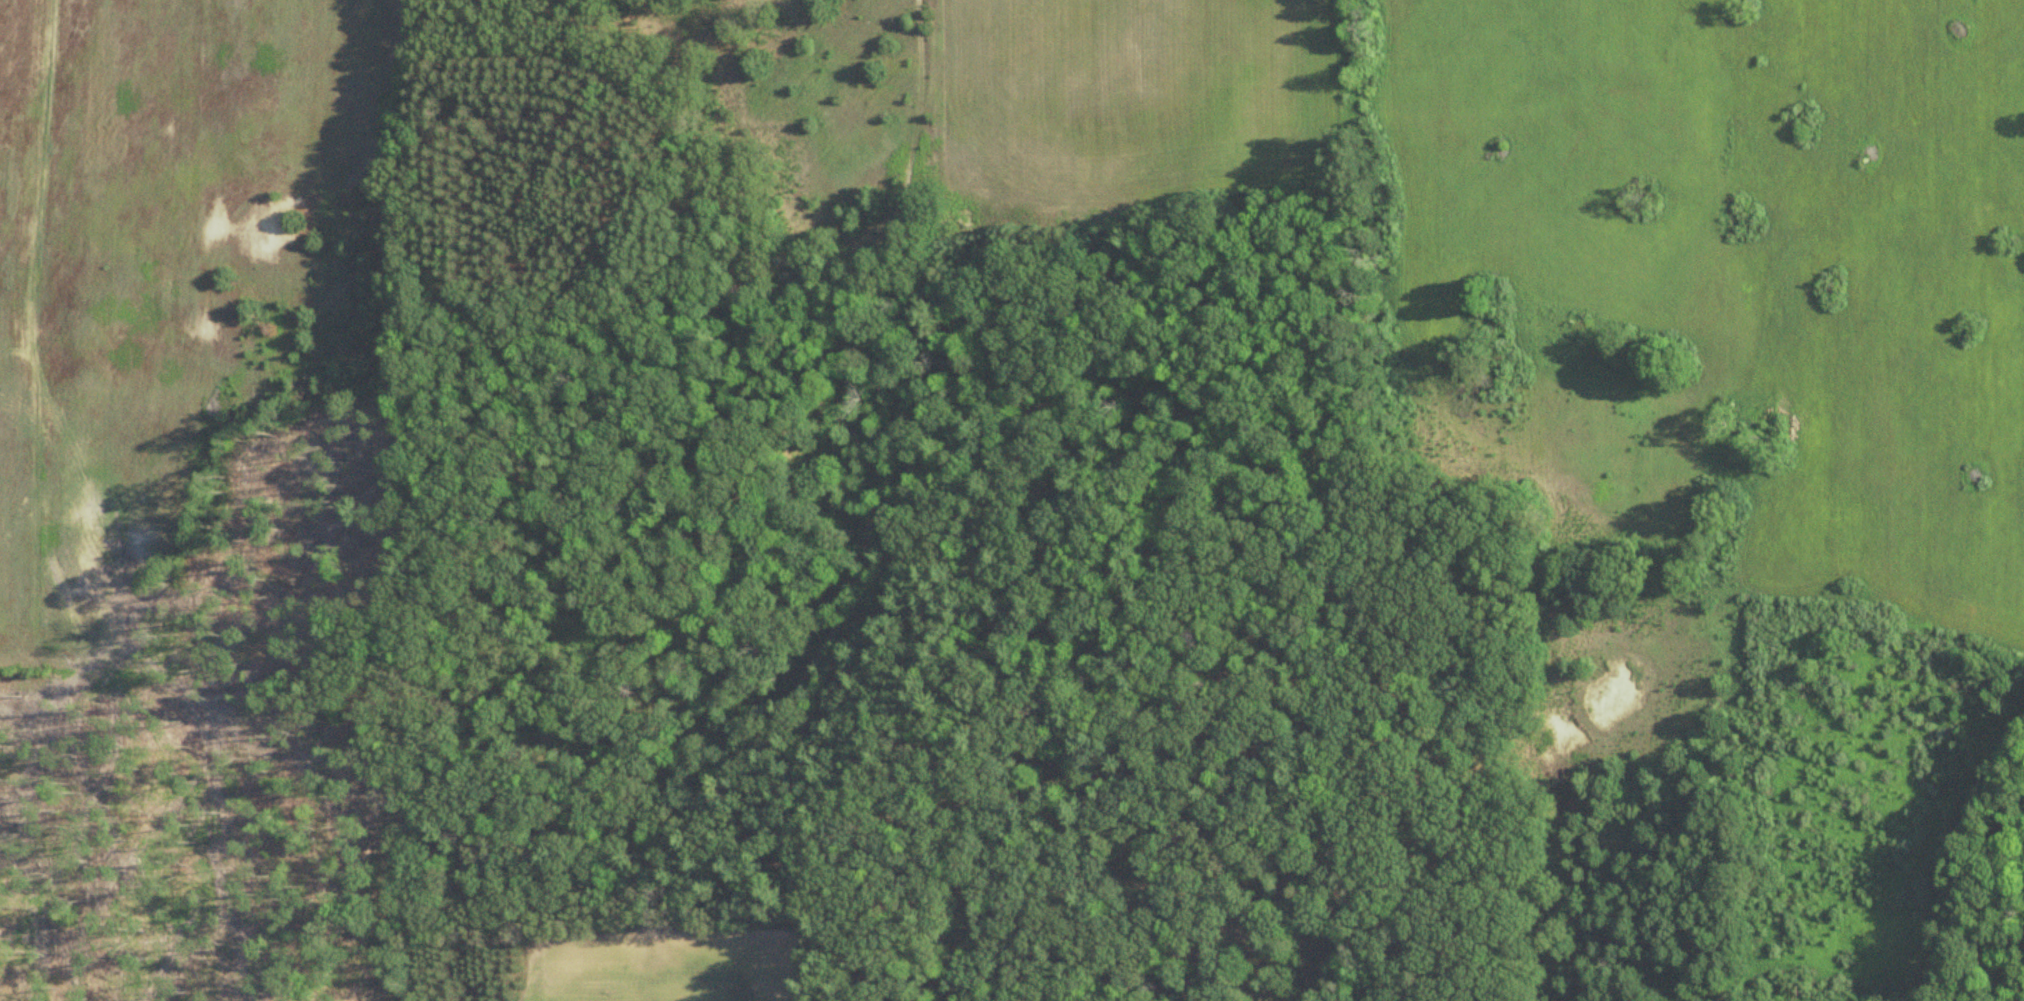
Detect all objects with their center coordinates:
crop: (1764, 245)

